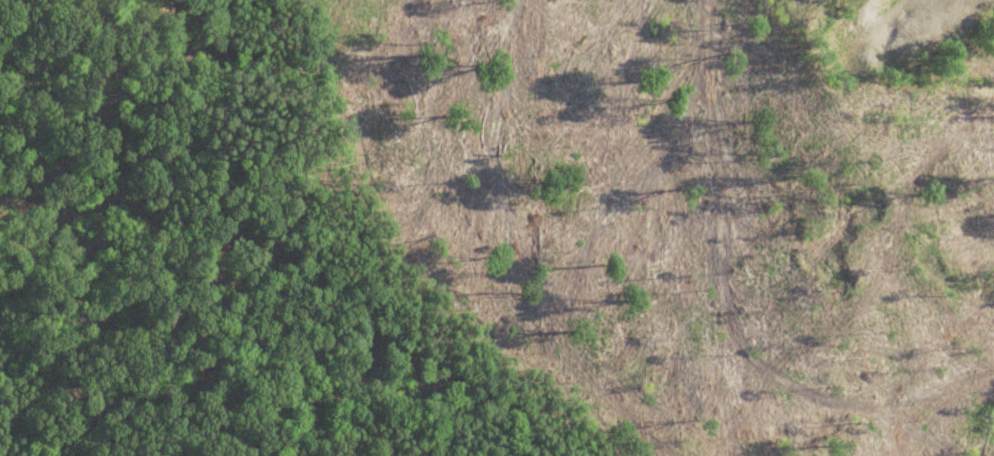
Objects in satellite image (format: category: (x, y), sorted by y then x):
road: (322, 31)
road: (435, 284)

